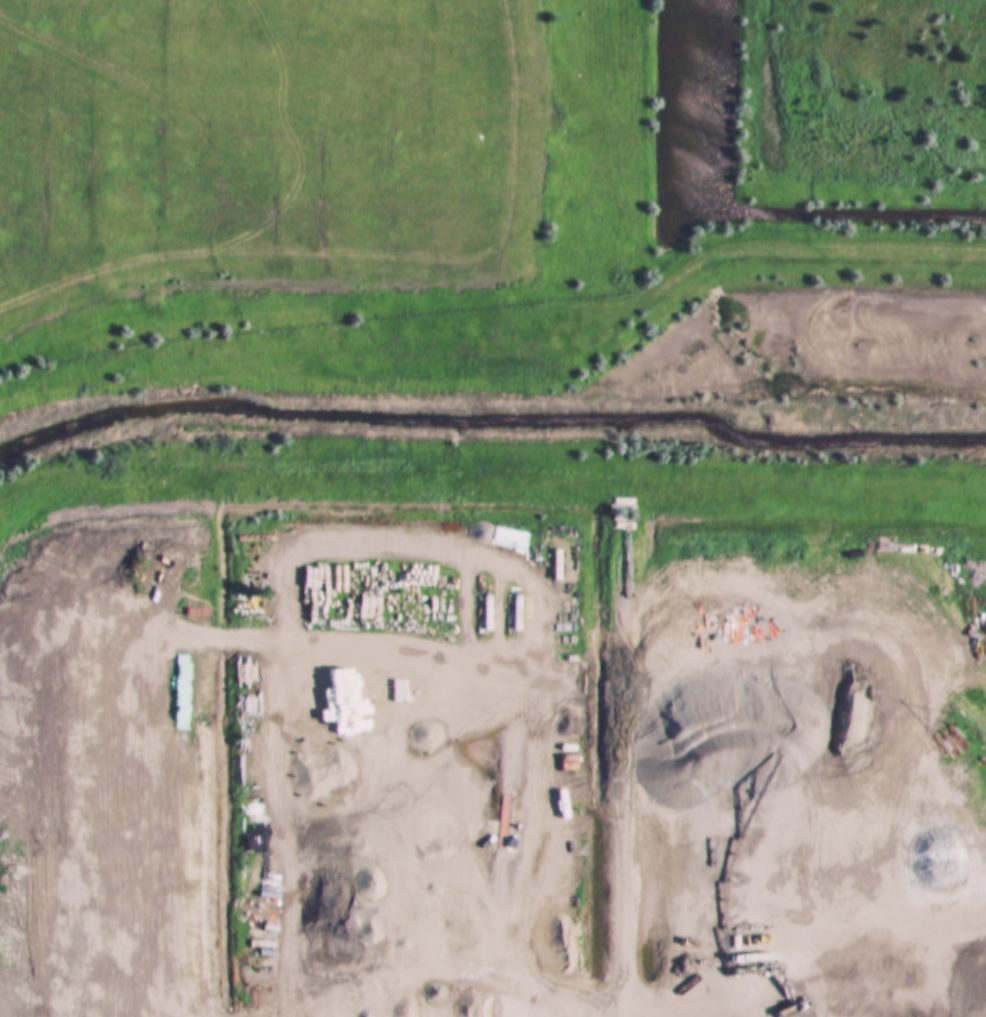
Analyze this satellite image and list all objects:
building: (84, 524)
building: (66, 526)
building: (100, 534)
road: (496, 695)
power tower: (971, 727)
quarry: (600, 764)

